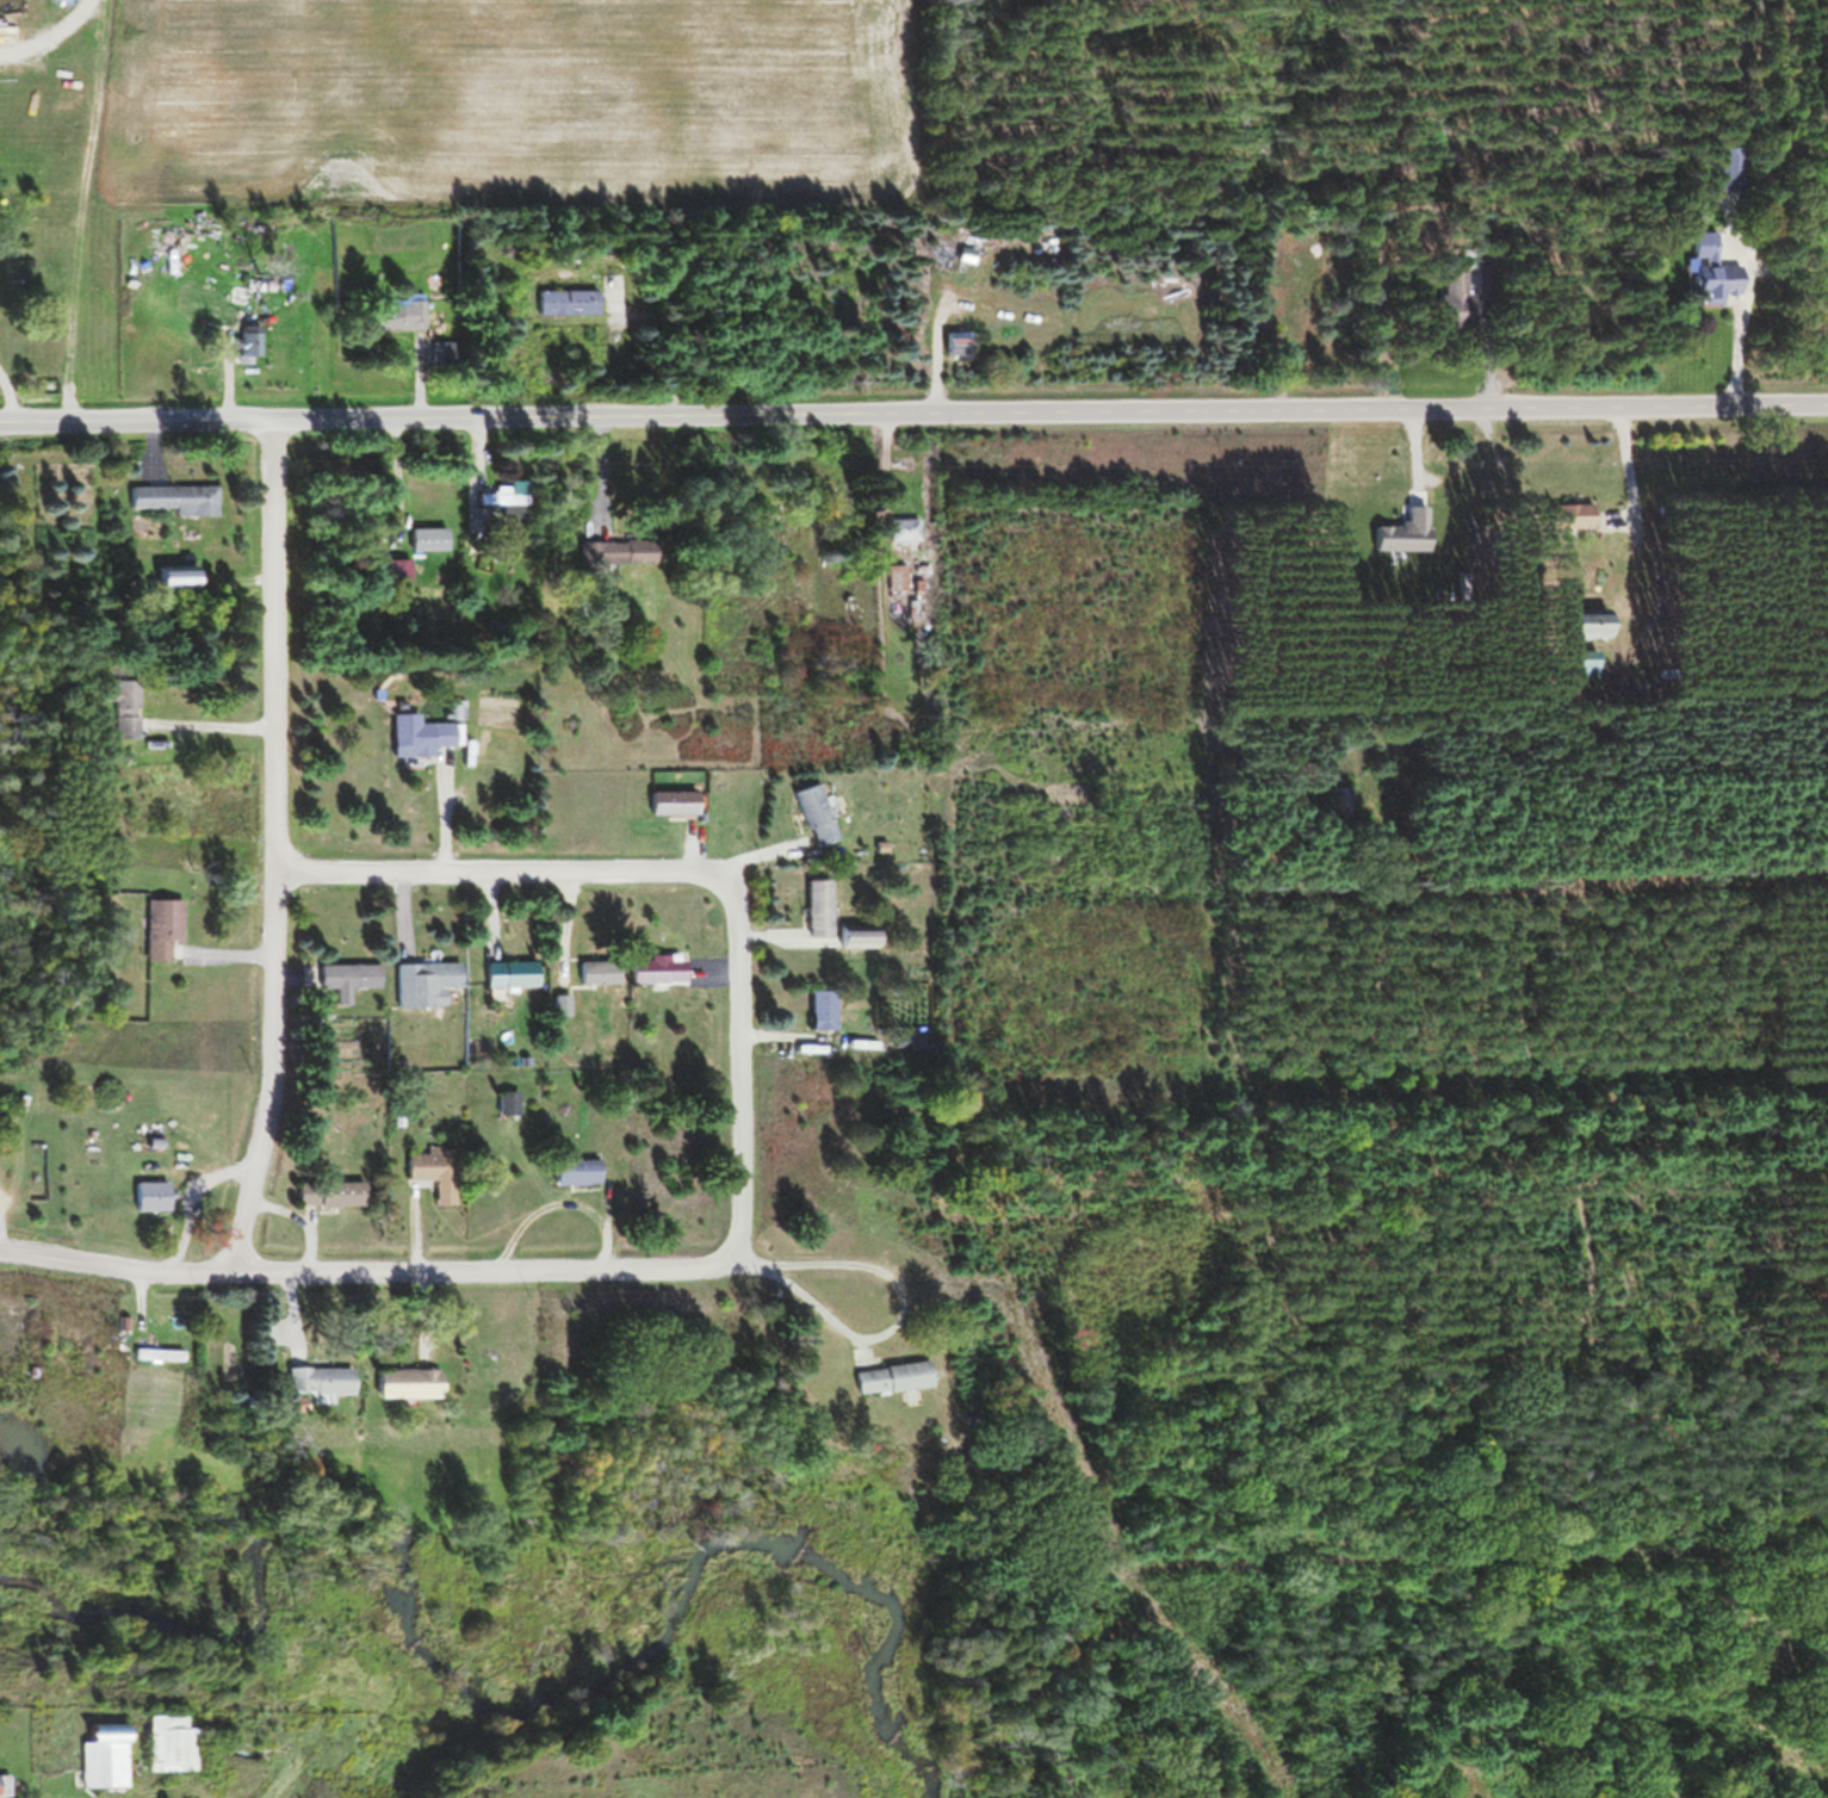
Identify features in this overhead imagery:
road: (47, 25)
building: (1729, 181)
road: (85, 203)
building: (1711, 269)
building: (572, 289)
building: (1455, 294)
building: (405, 304)
building: (568, 304)
building: (399, 317)
building: (252, 329)
building: (958, 346)
road: (942, 347)
road: (1746, 347)
building: (439, 354)
road: (14, 382)
road: (235, 382)
road: (426, 386)
road: (913, 404)
road: (1423, 434)
road: (1637, 467)
building: (176, 490)
building: (508, 501)
building: (1575, 503)
building: (1572, 519)
building: (1405, 521)
building: (476, 522)
building: (430, 526)
building: (901, 531)
building: (428, 540)
building: (603, 557)
building: (402, 559)
building: (180, 565)
building: (398, 571)
building: (791, 584)
building: (1592, 612)
building: (125, 712)
road: (230, 714)
building: (423, 724)
building: (678, 790)
building: (1340, 802)
building: (674, 804)
building: (817, 804)
road: (453, 810)
road: (278, 838)
road: (695, 845)
road: (760, 848)
road: (513, 861)
building: (819, 897)
road: (409, 901)
road: (497, 901)
road: (575, 904)
building: (169, 914)
building: (860, 924)
road: (237, 943)
building: (656, 956)
building: (601, 960)
building: (512, 961)
building: (351, 966)
building: (428, 969)
building: (657, 969)
building: (597, 973)
building: (512, 976)
building: (348, 980)
building: (565, 992)
building: (822, 1012)
road: (743, 1068)
building: (510, 1090)
building: (575, 1158)
building: (438, 1162)
road: (228, 1166)
building: (576, 1173)
building: (155, 1182)
building: (330, 1183)
building: (151, 1197)
road: (304, 1209)
road: (2, 1219)
road: (611, 1221)
road: (421, 1226)
road: (368, 1260)
road: (144, 1289)
road: (905, 1292)
road: (427, 1303)
road: (296, 1304)
building: (161, 1345)
building: (159, 1356)
building: (897, 1364)
building: (321, 1366)
building: (409, 1371)
building: (893, 1379)
building: (321, 1383)
building: (171, 1730)
building: (104, 1748)
building: (6, 1775)
building: (4, 1787)

